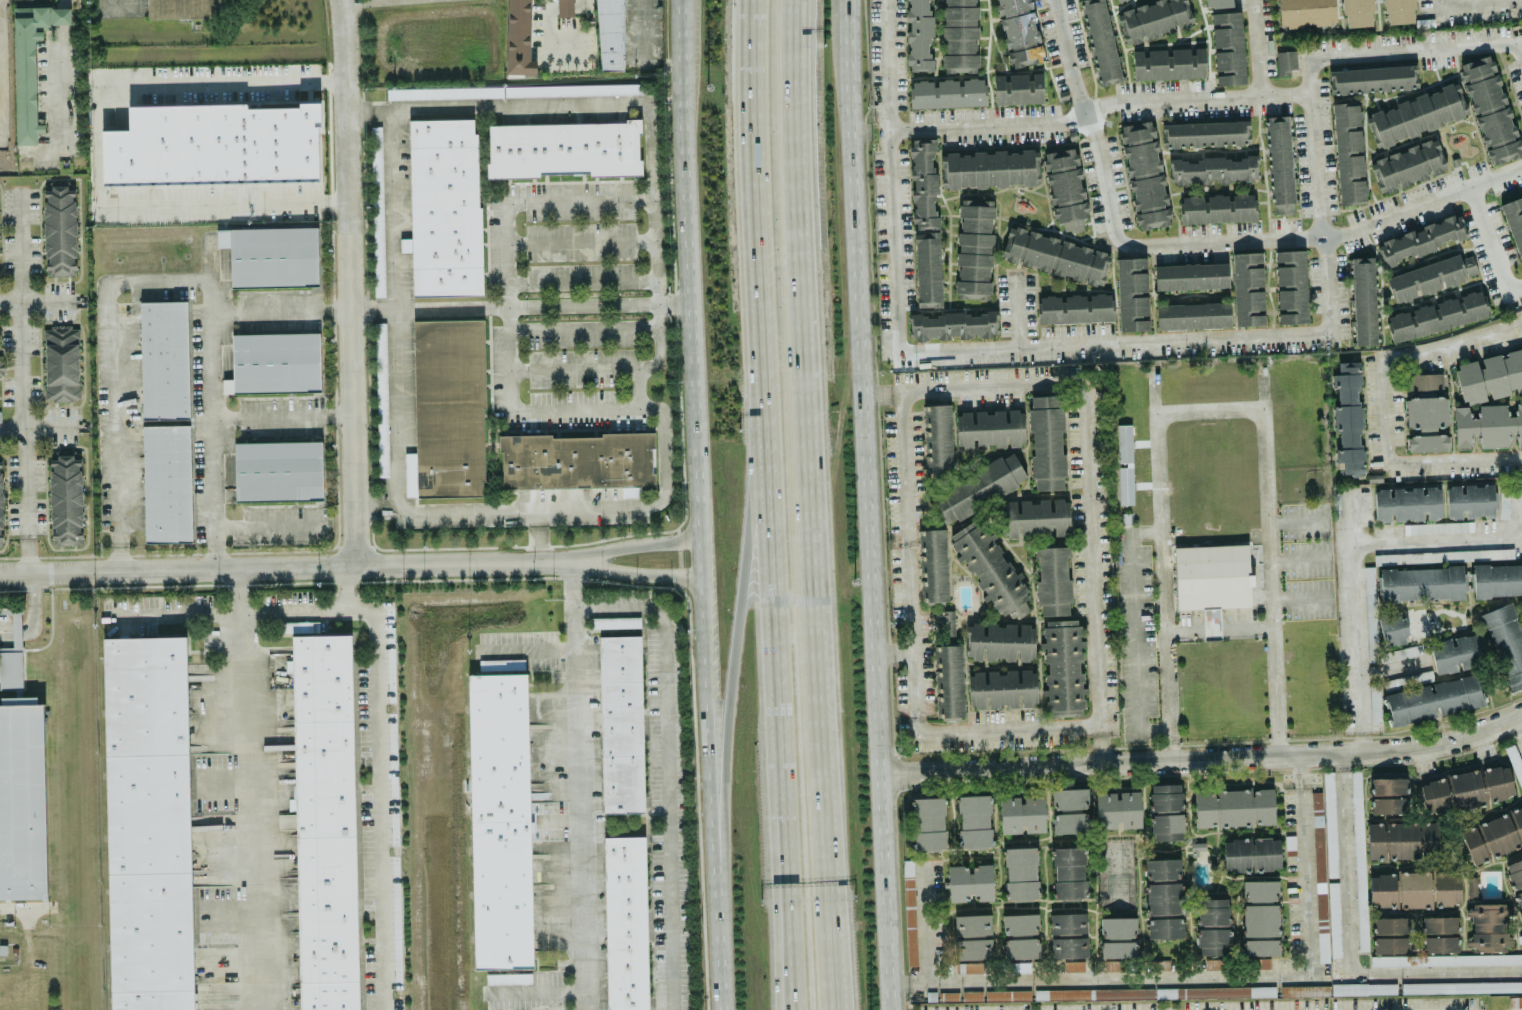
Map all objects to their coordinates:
road: (348, 0)
building: (1122, 0)
building: (1217, 3)
road: (1439, 3)
road: (1481, 3)
road: (64, 4)
road: (643, 6)
building: (187, 8)
building: (565, 8)
building: (1399, 11)
building: (1306, 12)
building: (1358, 12)
road: (61, 17)
building: (1154, 19)
building: (1018, 31)
building: (919, 35)
building: (960, 35)
building: (519, 37)
building: (1101, 41)
road: (1256, 47)
building: (1228, 48)
road: (1418, 48)
building: (1285, 62)
building: (1169, 63)
building: (30, 64)
building: (1373, 78)
road: (61, 87)
building: (1018, 88)
building: (575, 89)
building: (444, 92)
building: (948, 92)
road: (502, 102)
road: (1099, 108)
road: (369, 109)
building: (1456, 111)
road: (1085, 117)
building: (1205, 133)
building: (214, 145)
building: (564, 149)
road: (95, 151)
road: (680, 151)
building: (1349, 152)
building: (1280, 164)
building: (1408, 165)
building: (1214, 169)
building: (1145, 174)
road: (1496, 175)
building: (1023, 177)
road: (754, 183)
building: (923, 183)
road: (1318, 194)
building: (444, 207)
building: (1218, 208)
building: (377, 211)
road: (1396, 211)
building: (1514, 221)
building: (60, 231)
building: (1422, 238)
road: (580, 240)
road: (1217, 240)
road: (1491, 246)
building: (974, 247)
building: (1056, 255)
building: (271, 256)
building: (928, 269)
building: (1191, 276)
building: (1432, 276)
road: (159, 278)
road: (580, 280)
road: (351, 282)
building: (1291, 286)
building: (1248, 288)
building: (1132, 293)
road: (505, 297)
road: (36, 300)
building: (1365, 300)
road: (518, 303)
building: (1074, 307)
road: (279, 309)
road: (1016, 311)
building: (1193, 315)
building: (1437, 315)
building: (953, 325)
road: (938, 348)
building: (276, 362)
building: (61, 363)
building: (2, 366)
road: (805, 366)
road: (571, 368)
road: (21, 379)
road: (923, 390)
road: (885, 392)
building: (1488, 398)
building: (382, 399)
road: (1383, 405)
building: (447, 410)
road: (1210, 410)
building: (1426, 412)
building: (0, 416)
road: (282, 416)
building: (1348, 416)
road: (691, 420)
building: (165, 422)
road: (37, 428)
building: (987, 428)
building: (937, 441)
building: (1047, 442)
building: (1124, 442)
building: (579, 461)
building: (278, 471)
building: (1125, 485)
building: (977, 487)
building: (66, 500)
building: (1470, 500)
building: (1407, 503)
road: (872, 504)
building: (1, 506)
road: (378, 507)
building: (1045, 517)
road: (1297, 522)
road: (271, 524)
building: (1438, 527)
road: (767, 532)
road: (1439, 538)
road: (638, 543)
building: (1387, 557)
road: (1297, 560)
road: (1270, 562)
building: (933, 565)
road: (290, 566)
road: (1163, 571)
road: (638, 574)
building: (1212, 576)
building: (1497, 579)
building: (1053, 580)
building: (1422, 583)
road: (344, 587)
building: (993, 598)
road: (1300, 599)
building: (16, 613)
building: (1371, 613)
road: (31, 614)
road: (169, 616)
road: (1357, 618)
building: (615, 621)
building: (945, 625)
road: (1219, 625)
building: (300, 626)
building: (1393, 628)
road: (1135, 630)
building: (1506, 641)
road: (525, 648)
road: (896, 652)
building: (1401, 652)
building: (1455, 653)
road: (731, 662)
building: (501, 663)
road: (1394, 666)
building: (321, 676)
building: (1038, 677)
building: (949, 681)
building: (146, 694)
building: (1434, 699)
building: (621, 723)
road: (1519, 725)
road: (376, 741)
road: (705, 748)
road: (1204, 758)
building: (1516, 763)
road: (665, 764)
building: (324, 776)
road: (575, 784)
road: (248, 788)
building: (1467, 789)
building: (1389, 795)
building: (22, 799)
building: (1263, 806)
building: (1234, 807)
building: (1205, 808)
building: (1070, 810)
building: (1167, 811)
building: (148, 813)
building: (1022, 814)
building: (501, 820)
building: (975, 820)
building: (930, 823)
building: (1330, 823)
building: (1493, 835)
building: (1403, 840)
road: (776, 853)
road: (782, 853)
building: (1266, 853)
building: (1237, 854)
building: (1359, 860)
road: (822, 870)
road: (834, 871)
building: (1069, 872)
building: (1515, 878)
building: (970, 882)
building: (1420, 888)
building: (1325, 891)
building: (1164, 898)
road: (27, 906)
building: (327, 907)
building: (909, 912)
building: (1260, 917)
building: (626, 922)
road: (925, 926)
building: (1213, 926)
building: (1489, 926)
building: (151, 932)
building: (1069, 934)
building: (1440, 934)
building: (1021, 935)
building: (973, 936)
building: (1118, 937)
road: (1349, 948)
road: (1208, 975)
building: (508, 978)
road: (716, 983)
building: (1465, 986)
building: (1338, 989)
road: (533, 990)
building: (1154, 992)
building: (1007, 994)
building: (329, 995)
building: (153, 1000)
building: (1519, 1000)
road: (1410, 1007)

